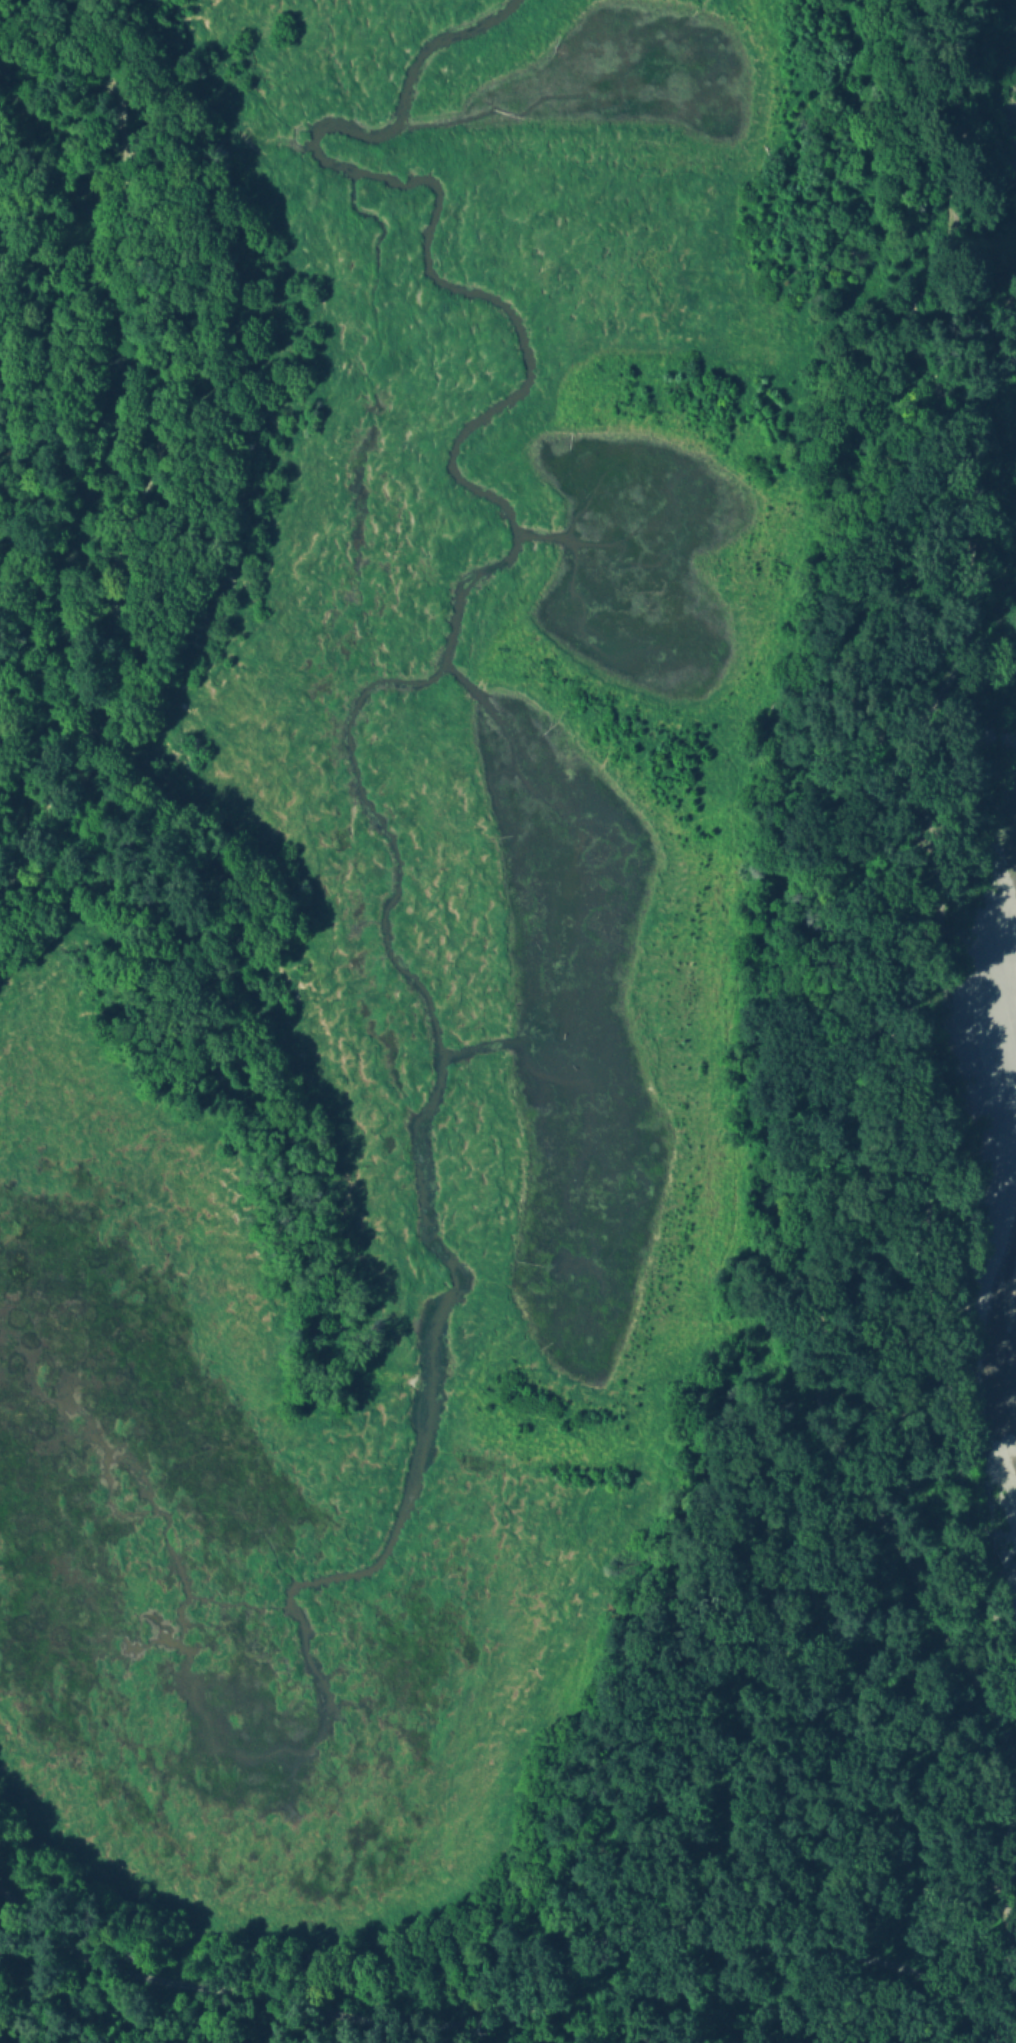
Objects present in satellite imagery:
road: (903, 1015)

